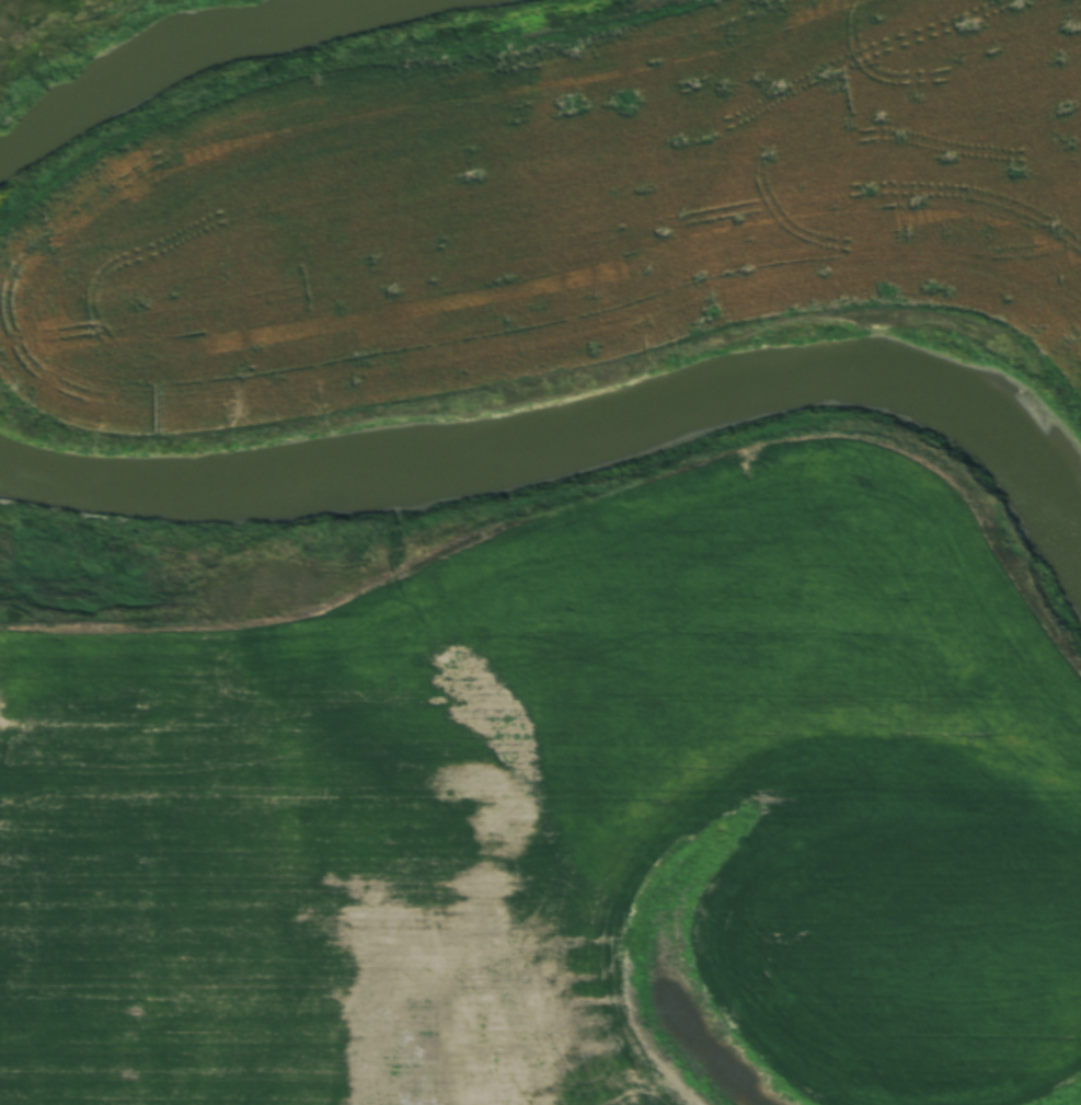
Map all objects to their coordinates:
river: (199, 58)
river: (582, 434)

